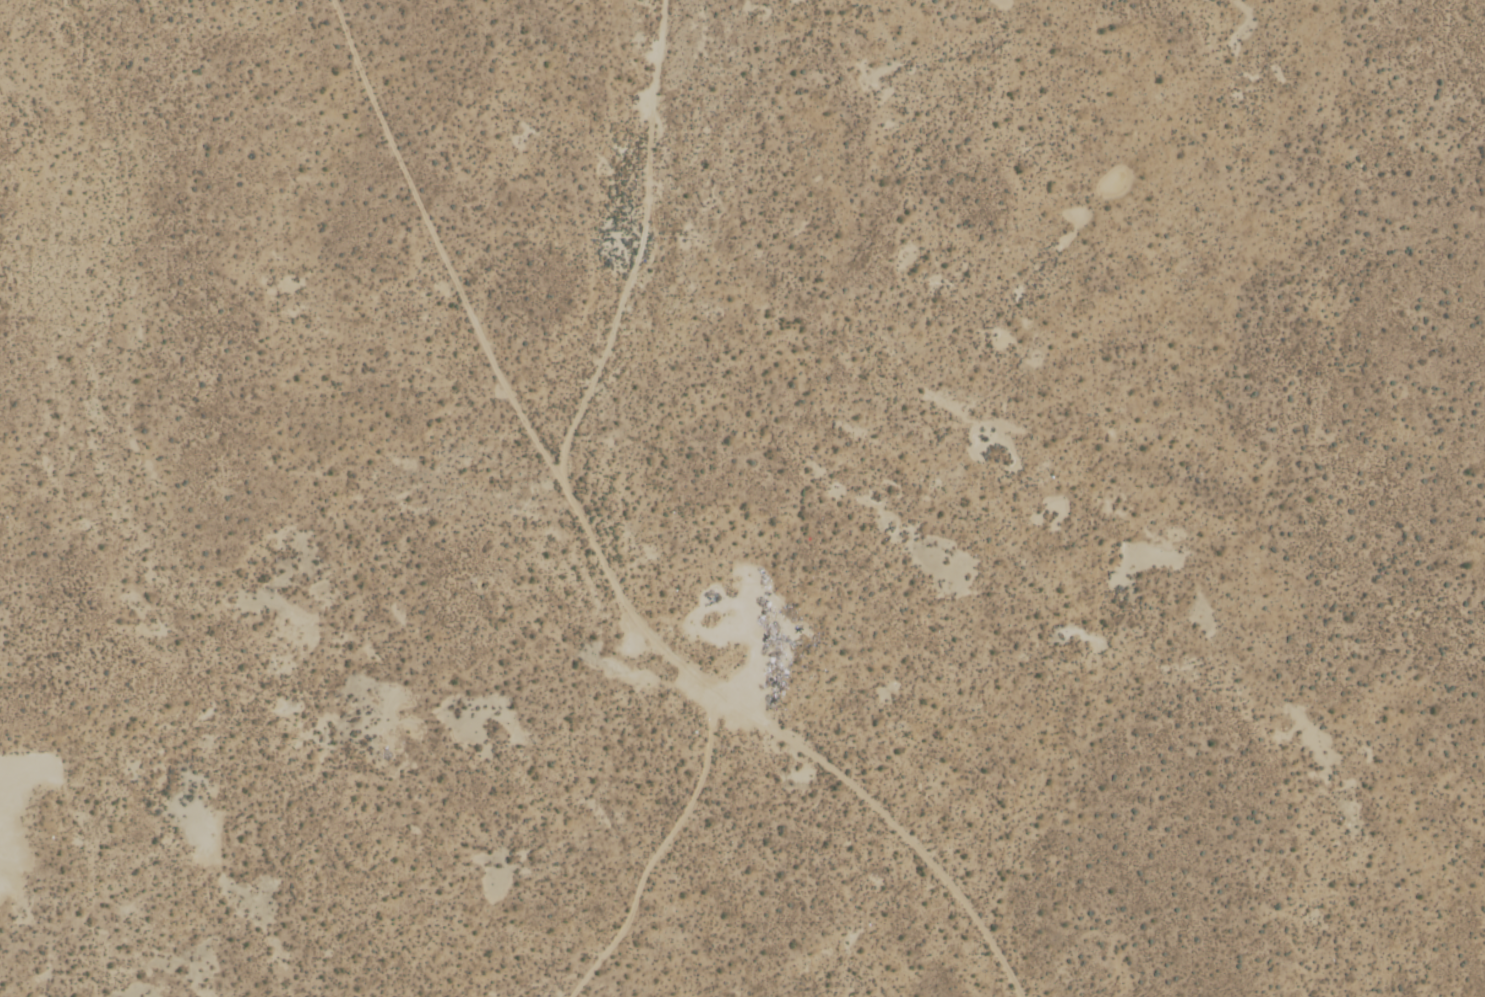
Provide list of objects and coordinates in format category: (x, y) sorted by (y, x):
road: (503, 389)
road: (902, 842)
road: (659, 848)

